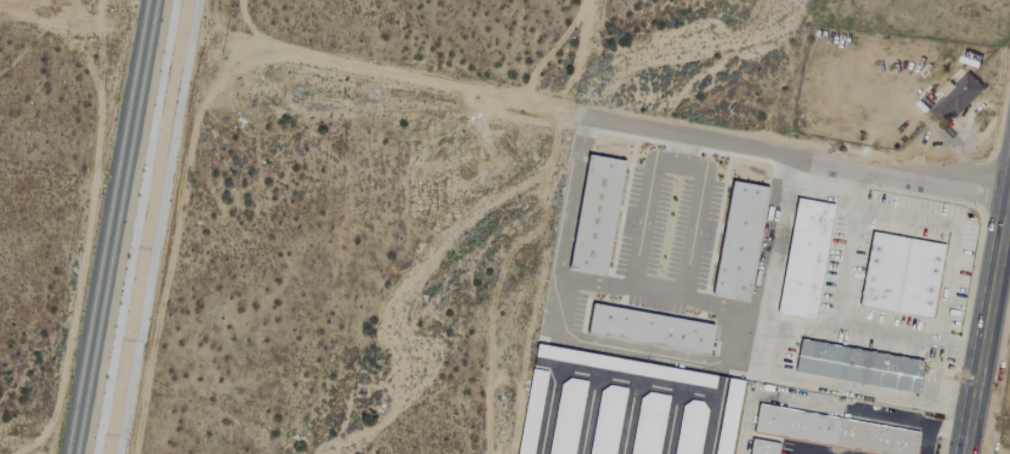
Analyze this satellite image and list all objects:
road: (42, 9)
road: (413, 80)
building: (950, 97)
road: (793, 153)
road: (571, 196)
road: (646, 201)
building: (592, 216)
road: (906, 217)
railway: (107, 227)
railway: (115, 227)
road: (557, 227)
road: (692, 227)
building: (735, 242)
building: (802, 260)
building: (898, 276)
road: (946, 288)
road: (732, 311)
road: (986, 317)
road: (836, 318)
building: (645, 328)
road: (803, 328)
road: (768, 363)
building: (855, 366)
road: (930, 373)
building: (529, 412)
building: (726, 416)
building: (565, 417)
building: (605, 420)
building: (648, 423)
building: (688, 428)
building: (833, 431)
building: (759, 447)
road: (818, 448)

